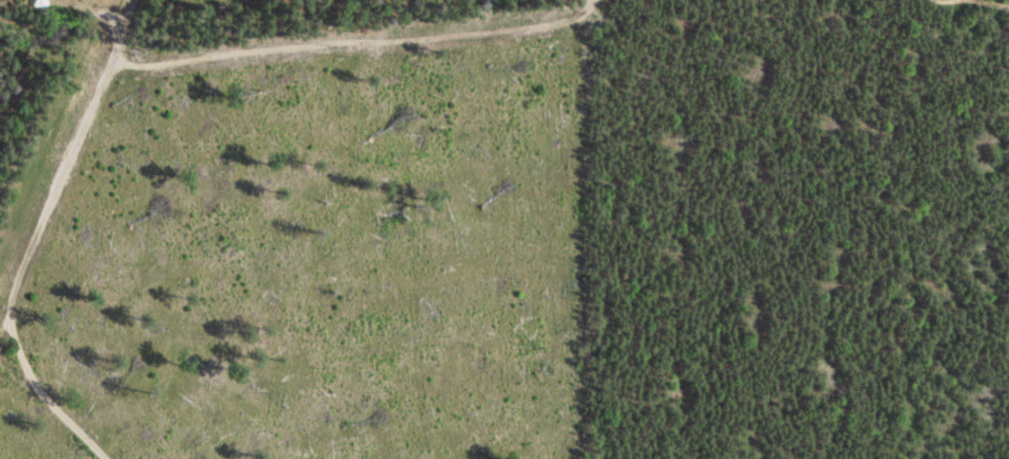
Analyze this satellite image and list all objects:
road: (975, 5)
road: (124, 31)
road: (359, 41)
road: (57, 199)
road: (40, 397)

